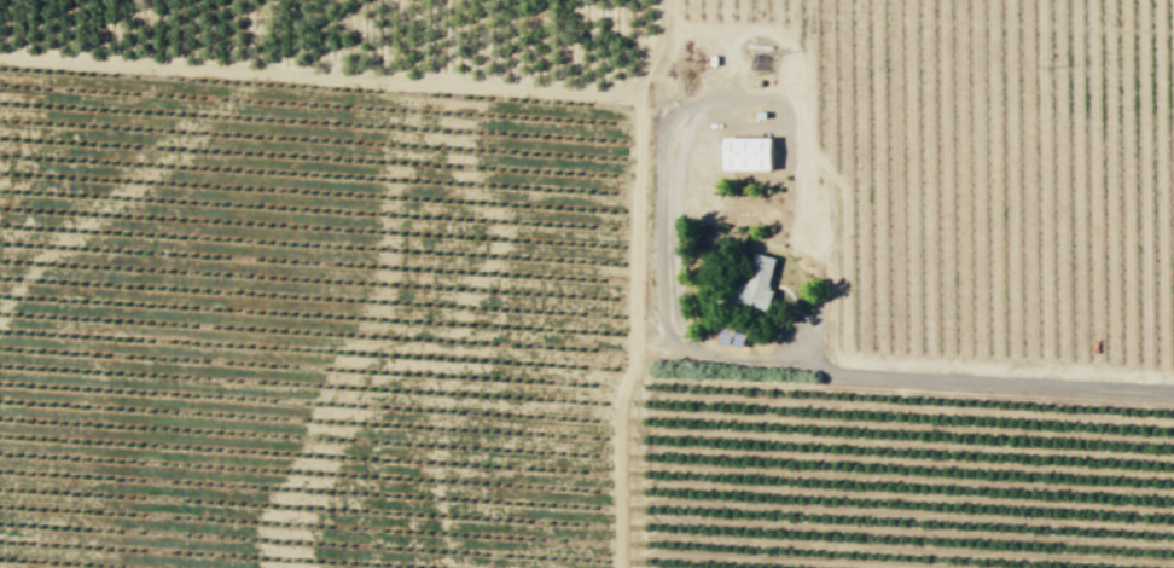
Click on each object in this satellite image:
road: (767, 94)
building: (746, 153)
road: (634, 282)
building: (757, 282)
road: (919, 377)

